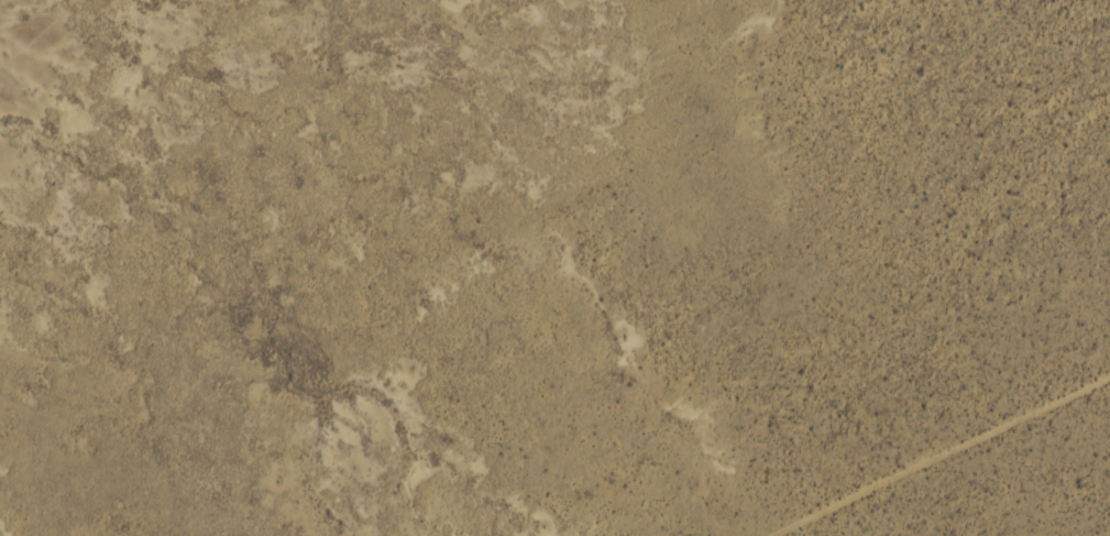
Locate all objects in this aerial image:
road: (944, 459)

